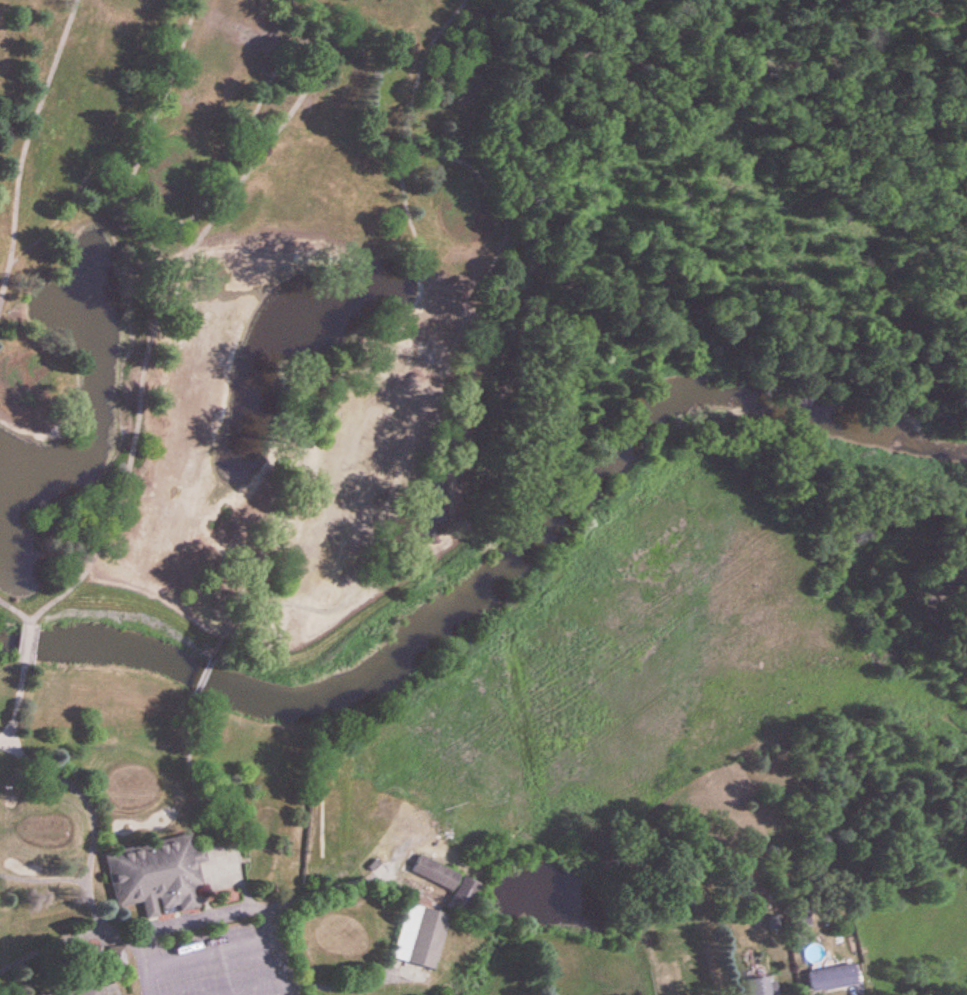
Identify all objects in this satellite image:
park: (472, 478)
river: (495, 568)
building: (156, 876)
building: (450, 884)
building: (420, 936)
road: (137, 962)
building: (690, 974)
building: (832, 978)
building: (763, 986)
building: (79, 992)

